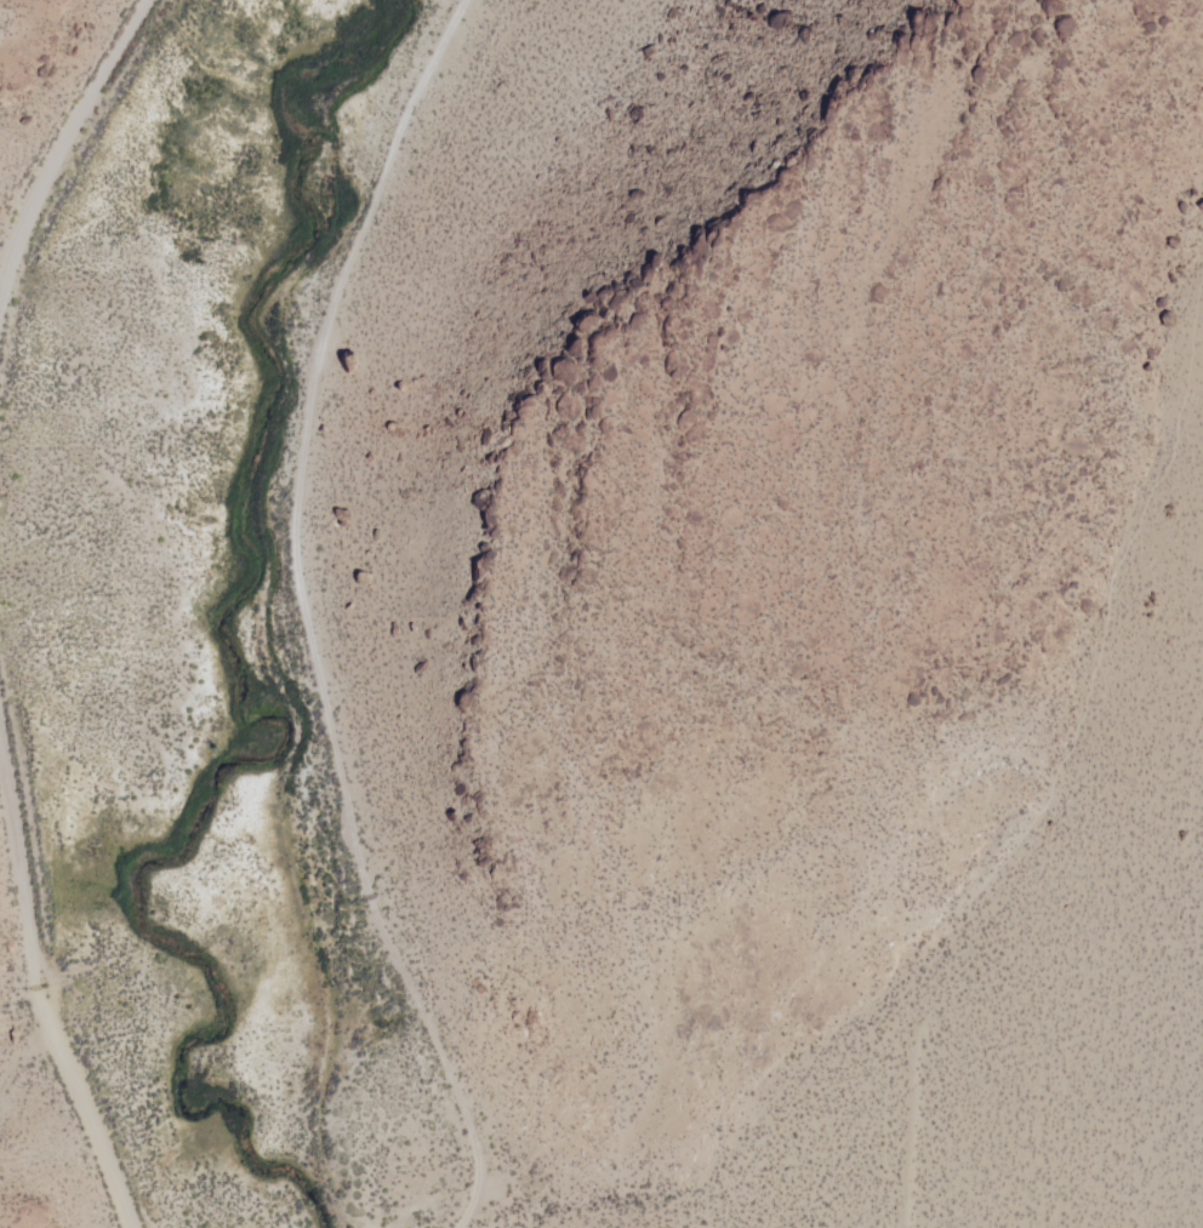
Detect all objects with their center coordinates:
road: (65, 141)
road: (315, 616)
road: (39, 970)

